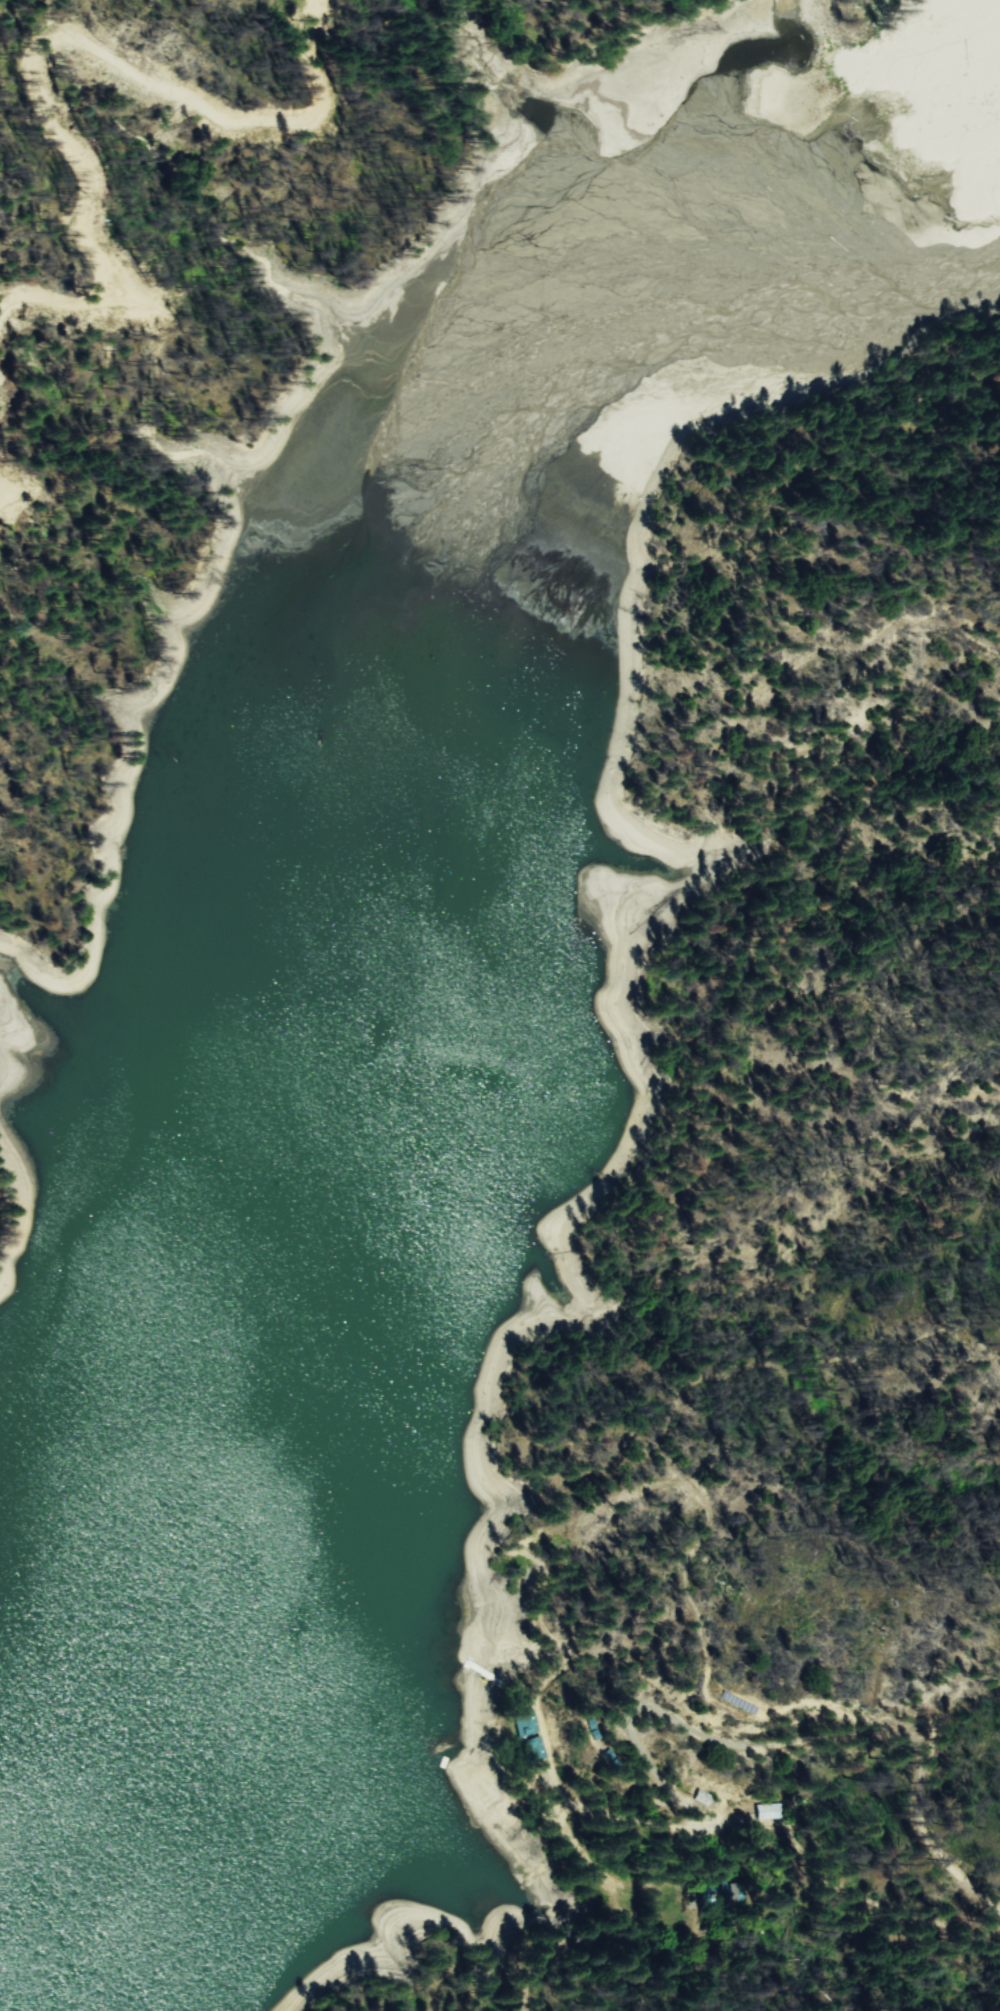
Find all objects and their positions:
building: (521, 1722)
road: (876, 1726)
building: (770, 1810)

